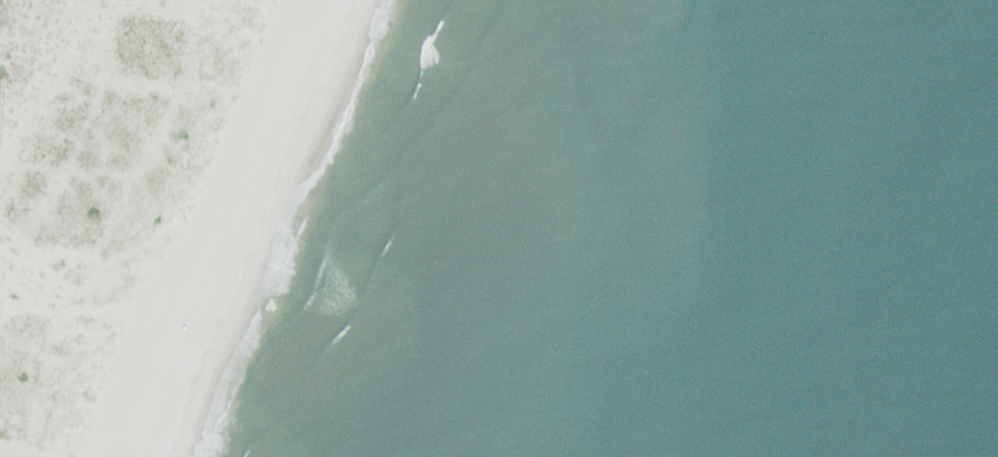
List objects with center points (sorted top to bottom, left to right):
park: (403, 3)

